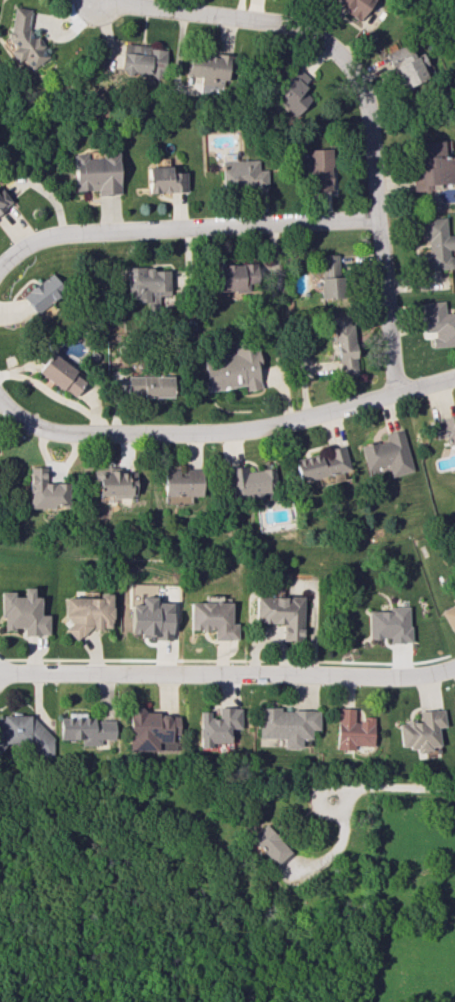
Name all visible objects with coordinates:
building: (353, 6)
building: (24, 39)
building: (142, 59)
building: (406, 67)
building: (208, 68)
building: (292, 93)
road: (360, 93)
building: (433, 166)
building: (318, 168)
building: (241, 172)
building: (96, 173)
building: (164, 180)
building: (3, 201)
road: (184, 228)
building: (437, 244)
building: (330, 276)
building: (234, 277)
building: (146, 285)
building: (43, 293)
building: (439, 323)
building: (344, 343)
building: (233, 367)
building: (60, 374)
building: (149, 386)
building: (445, 428)
road: (226, 433)
building: (388, 454)
building: (321, 464)
building: (182, 482)
building: (252, 482)
building: (115, 484)
building: (46, 491)
building: (24, 613)
building: (90, 613)
building: (281, 613)
building: (449, 614)
building: (151, 618)
building: (213, 618)
building: (388, 624)
road: (228, 675)
building: (285, 725)
building: (216, 726)
building: (85, 728)
building: (151, 730)
building: (350, 730)
building: (419, 730)
building: (23, 734)
road: (390, 786)
building: (267, 844)

